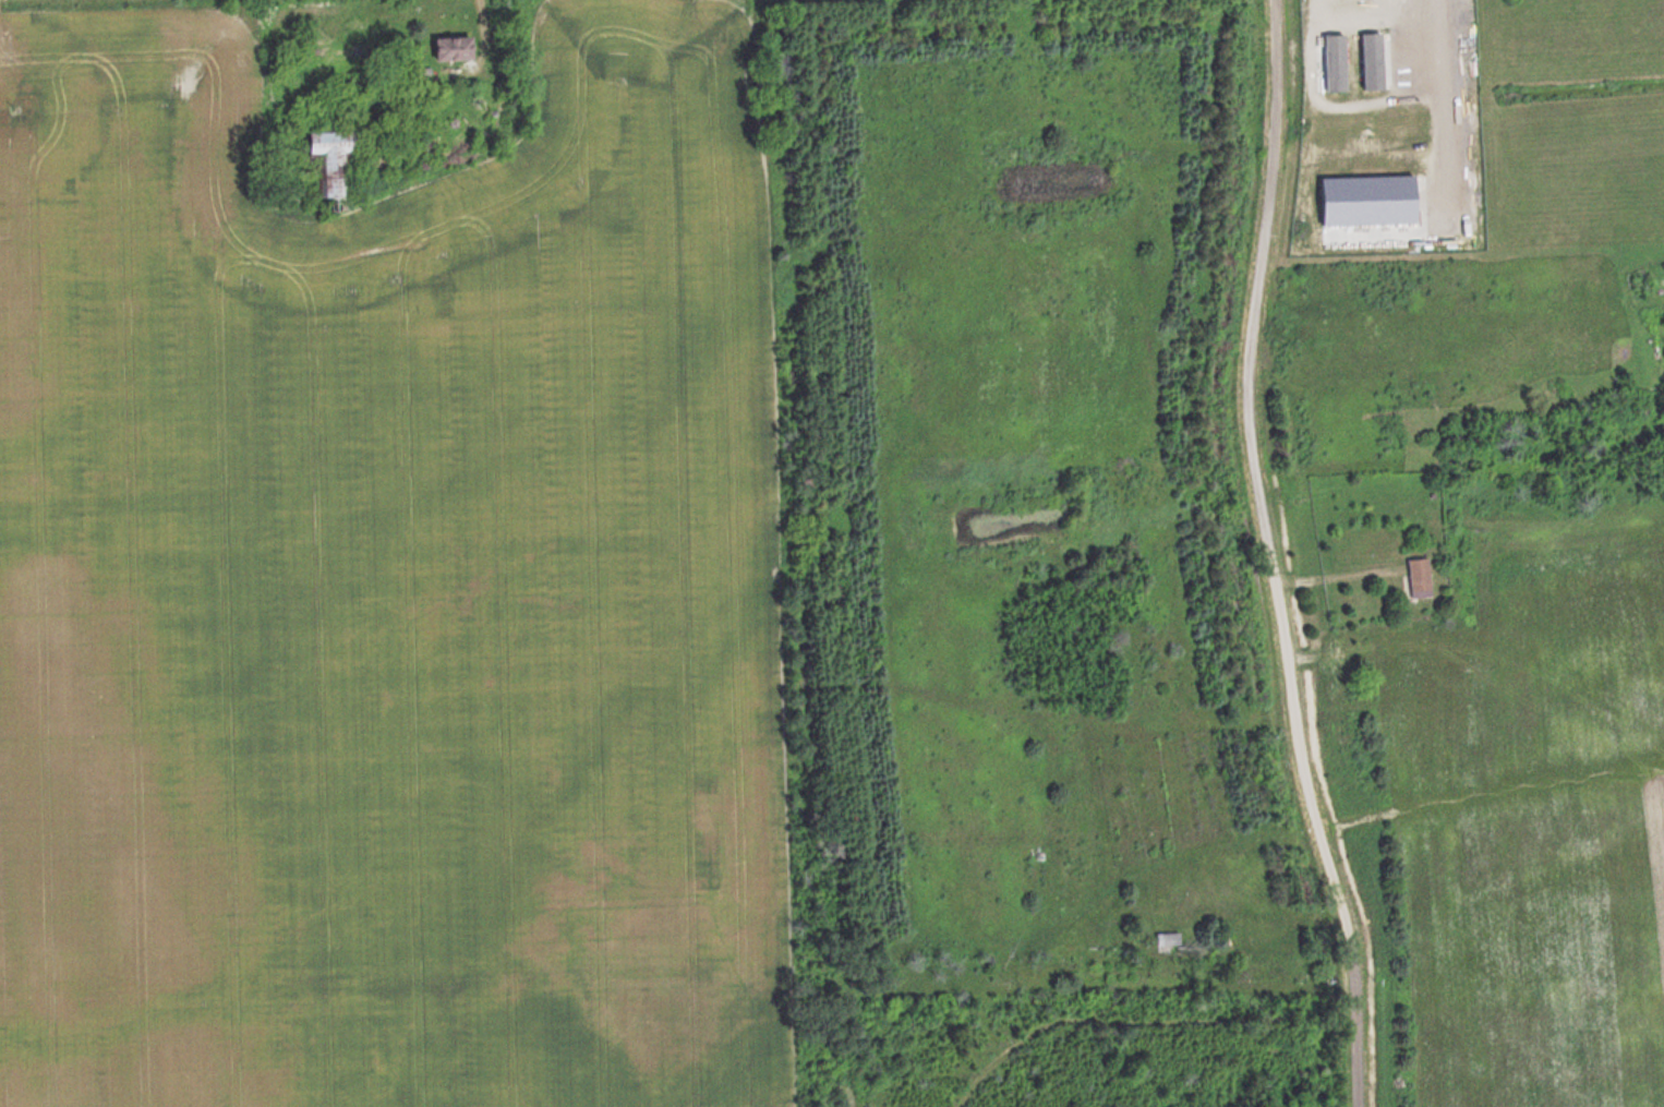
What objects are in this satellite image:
building: (462, 48)
building: (1377, 62)
building: (1340, 63)
building: (342, 161)
road: (1261, 555)
building: (1427, 577)
building: (1174, 941)

